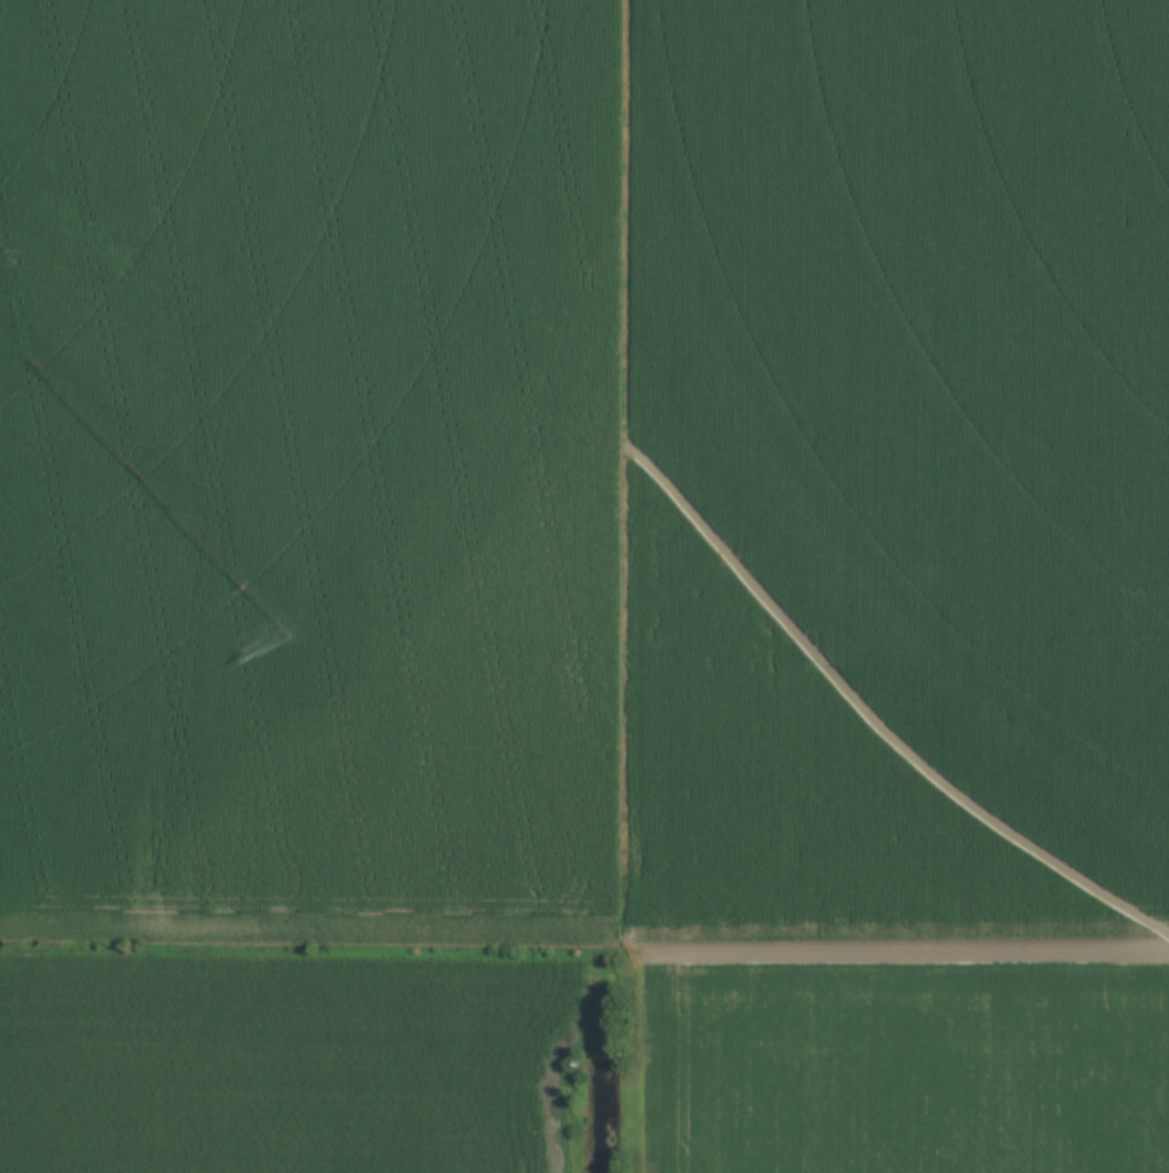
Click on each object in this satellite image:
crop: (586, 575)
road: (911, 949)

